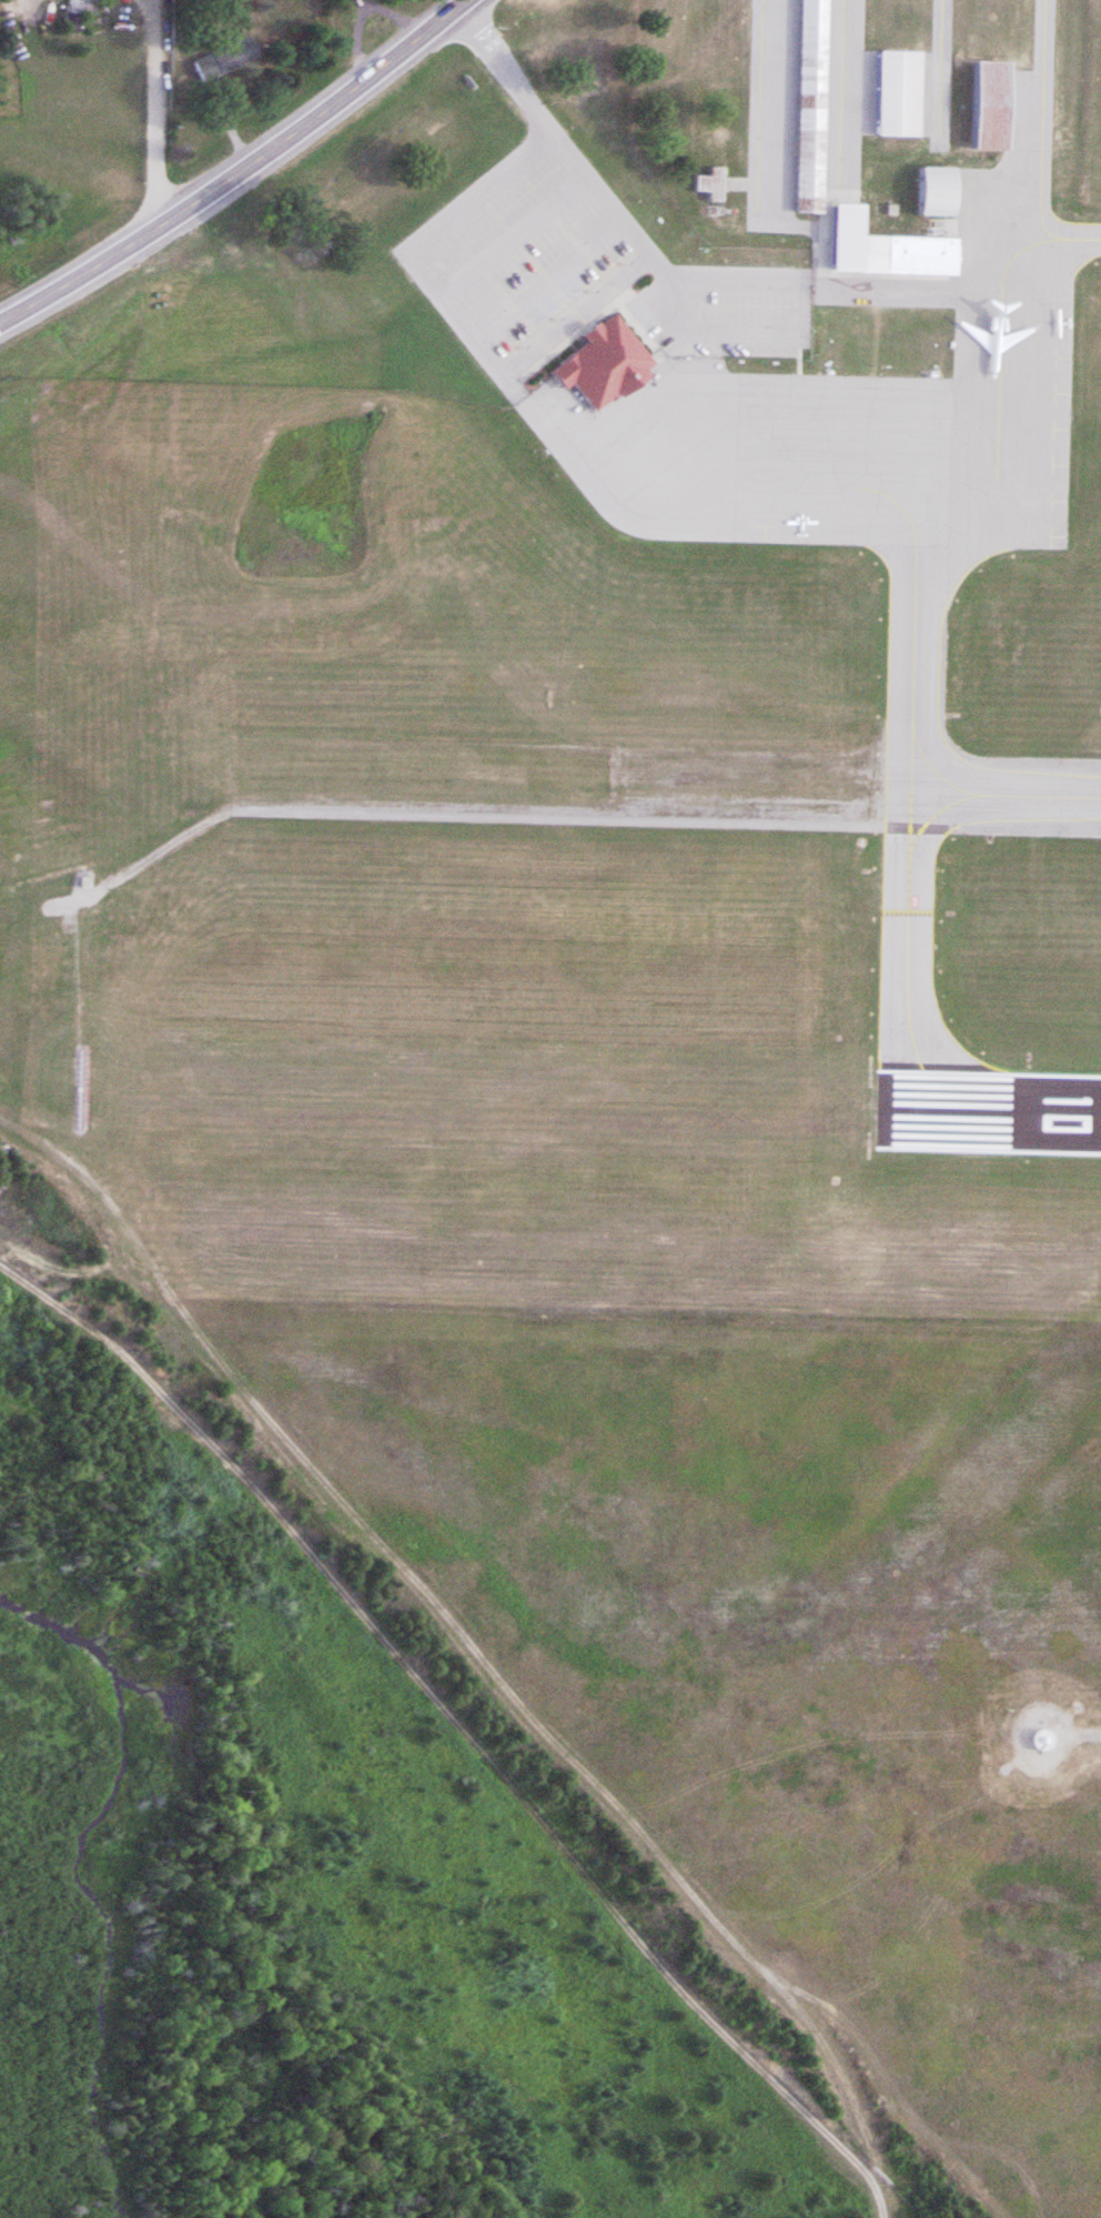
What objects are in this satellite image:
building: (71, 16)
building: (230, 56)
road: (334, 98)
airport hangar: (896, 101)
building: (896, 101)
airport taxiway: (756, 105)
airport hangar: (806, 105)
building: (806, 105)
airport hangar: (984, 105)
building: (984, 105)
airport taxiway: (848, 111)
road: (142, 115)
airport taxiway: (1039, 122)
road: (553, 132)
building: (710, 142)
building: (707, 184)
airport hangar: (930, 192)
building: (930, 192)
airport taxiway: (1077, 241)
building: (911, 255)
road: (102, 259)
parking lot: (533, 282)
parking lot: (721, 310)
airport taxiway: (996, 345)
airport terminal: (599, 364)
building: (599, 364)
airport apron: (875, 405)
airport taxiway: (1003, 797)
airport taxiway: (906, 827)
airport: (647, 923)
airport runway: (988, 1115)
road: (463, 1720)
building: (1037, 1741)

